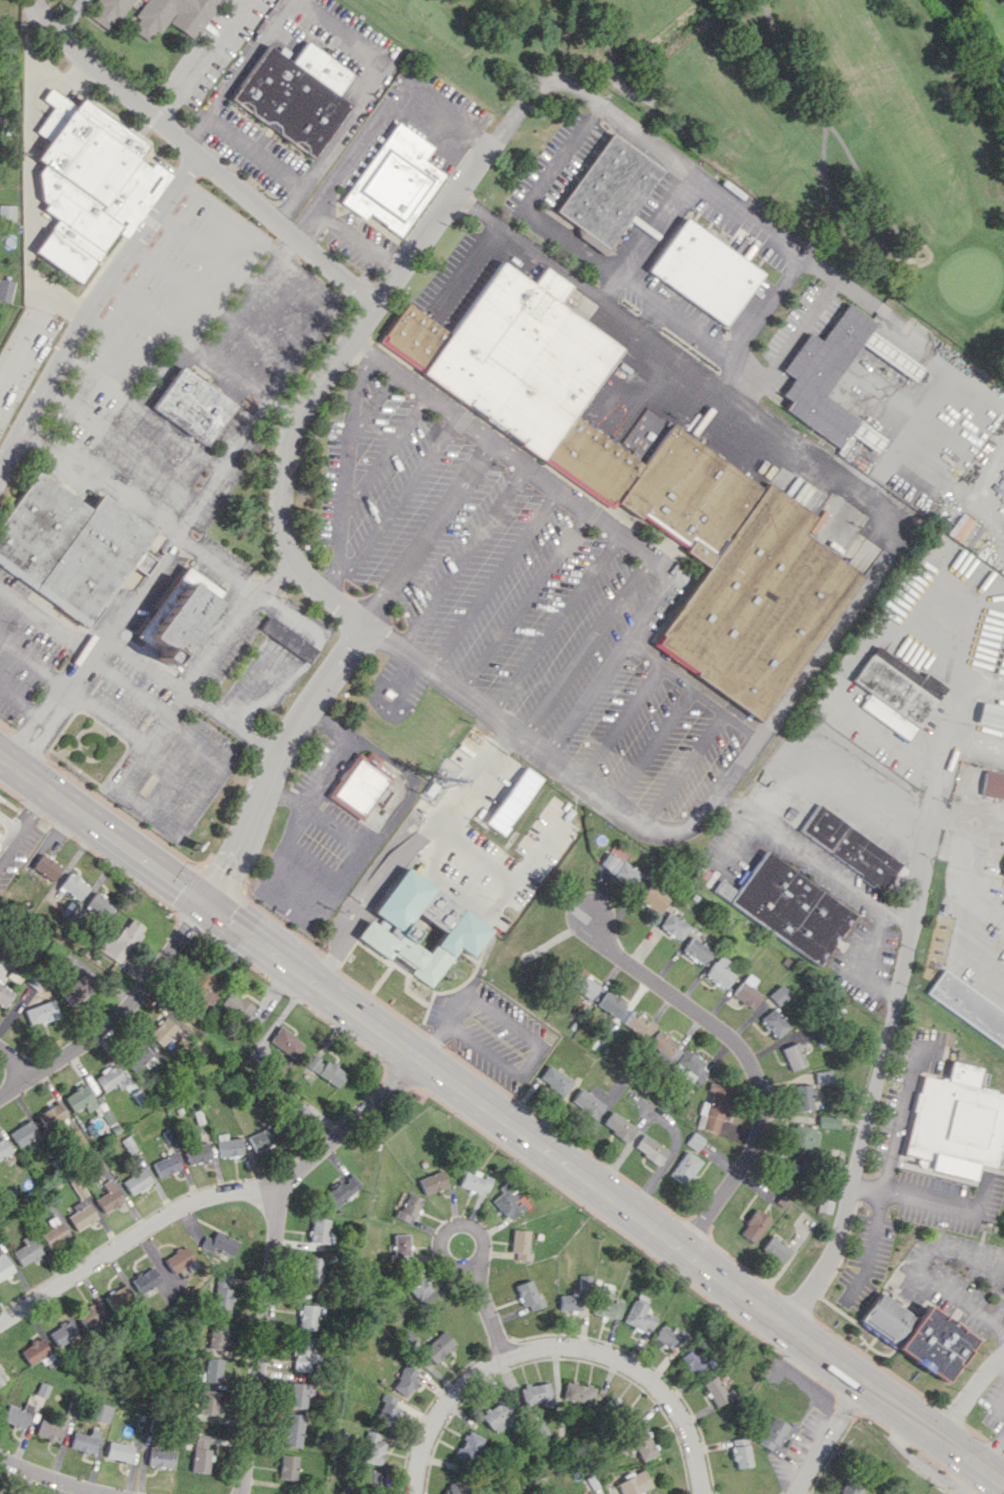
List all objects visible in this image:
building: (108, 12)
road: (68, 16)
building: (172, 16)
road: (247, 57)
road: (199, 59)
road: (370, 83)
building: (294, 94)
road: (389, 110)
park: (800, 118)
road: (159, 123)
road: (193, 129)
road: (253, 151)
building: (394, 181)
building: (89, 183)
road: (460, 189)
building: (607, 190)
road: (290, 205)
road: (742, 207)
road: (30, 211)
building: (6, 212)
road: (229, 216)
road: (303, 222)
road: (549, 228)
road: (644, 234)
road: (356, 239)
road: (287, 246)
road: (207, 247)
road: (333, 271)
building: (705, 271)
road: (182, 281)
building: (5, 289)
road: (863, 301)
road: (284, 304)
road: (322, 304)
road: (92, 306)
road: (125, 345)
road: (205, 351)
road: (233, 374)
building: (813, 378)
road: (374, 399)
road: (138, 401)
building: (193, 405)
road: (181, 435)
road: (121, 443)
road: (384, 453)
road: (886, 459)
road: (345, 470)
road: (101, 479)
building: (640, 481)
road: (868, 490)
road: (395, 504)
road: (188, 517)
road: (602, 520)
road: (430, 533)
building: (69, 546)
road: (464, 557)
road: (220, 563)
road: (495, 579)
building: (189, 598)
road: (526, 602)
road: (343, 604)
road: (283, 607)
road: (847, 609)
road: (44, 621)
road: (556, 624)
building: (288, 638)
road: (287, 639)
road: (589, 647)
road: (31, 663)
road: (693, 686)
building: (896, 692)
road: (21, 700)
road: (201, 700)
building: (991, 715)
road: (42, 716)
road: (163, 718)
road: (620, 718)
road: (173, 720)
road: (134, 738)
road: (651, 742)
road: (681, 765)
building: (993, 784)
building: (360, 785)
road: (410, 785)
building: (510, 801)
road: (24, 821)
road: (968, 821)
building: (849, 846)
road: (404, 849)
road: (310, 858)
building: (45, 867)
building: (619, 869)
building: (1002, 869)
road: (520, 874)
road: (832, 874)
building: (896, 877)
building: (72, 886)
building: (653, 898)
traffic signals: (206, 904)
building: (98, 906)
building: (788, 907)
building: (673, 925)
building: (419, 929)
building: (120, 941)
building: (696, 950)
road: (870, 957)
building: (719, 972)
building: (584, 985)
building: (76, 990)
building: (199, 991)
building: (746, 991)
building: (778, 994)
building: (4, 995)
building: (611, 1004)
building: (236, 1005)
building: (969, 1005)
building: (40, 1012)
road: (116, 1015)
building: (774, 1022)
road: (886, 1023)
building: (638, 1024)
road: (446, 1025)
building: (162, 1032)
building: (286, 1041)
building: (663, 1042)
building: (135, 1056)
building: (793, 1056)
road: (747, 1059)
road: (15, 1062)
building: (690, 1066)
building: (325, 1070)
building: (823, 1076)
building: (109, 1078)
building: (554, 1080)
building: (803, 1097)
building: (79, 1099)
building: (586, 1103)
building: (713, 1108)
building: (50, 1116)
road: (502, 1118)
building: (828, 1121)
building: (956, 1124)
building: (618, 1126)
building: (22, 1133)
building: (262, 1138)
building: (803, 1138)
building: (694, 1140)
building: (228, 1145)
building: (3, 1148)
building: (649, 1149)
building: (197, 1153)
building: (166, 1165)
building: (684, 1167)
building: (785, 1173)
building: (136, 1181)
building: (432, 1182)
building: (475, 1182)
building: (341, 1191)
building: (108, 1196)
building: (509, 1201)
road: (930, 1201)
building: (409, 1207)
building: (80, 1215)
building: (753, 1225)
road: (450, 1228)
building: (320, 1231)
building: (53, 1232)
road: (133, 1235)
road: (871, 1241)
building: (219, 1244)
building: (401, 1244)
building: (520, 1244)
road: (275, 1248)
building: (775, 1249)
building: (26, 1250)
building: (178, 1259)
building: (4, 1266)
building: (314, 1269)
road: (919, 1272)
building: (145, 1279)
building: (415, 1284)
building: (528, 1294)
building: (118, 1296)
building: (221, 1299)
building: (570, 1302)
building: (607, 1302)
road: (490, 1311)
road: (996, 1313)
building: (91, 1315)
building: (307, 1316)
building: (639, 1317)
building: (885, 1317)
building: (63, 1333)
building: (217, 1337)
building: (667, 1337)
building: (934, 1343)
building: (438, 1346)
road: (558, 1347)
building: (36, 1352)
building: (303, 1354)
building: (693, 1361)
road: (1000, 1363)
building: (211, 1370)
building: (406, 1379)
building: (1, 1380)
building: (715, 1390)
building: (578, 1392)
building: (535, 1393)
road: (969, 1393)
building: (298, 1394)
building: (209, 1401)
building: (613, 1405)
building: (72, 1409)
building: (387, 1411)
building: (101, 1412)
building: (17, 1415)
building: (499, 1415)
building: (51, 1428)
building: (293, 1429)
building: (540, 1429)
building: (771, 1433)
road: (830, 1438)
building: (85, 1441)
building: (637, 1444)
road: (989, 1445)
building: (470, 1447)
building: (374, 1448)
building: (119, 1451)
building: (740, 1452)
building: (201, 1453)
building: (160, 1458)
building: (288, 1466)
building: (369, 1477)
road: (49, 1478)
building: (634, 1483)
building: (848, 1487)
building: (456, 1488)
building: (280, 1493)

